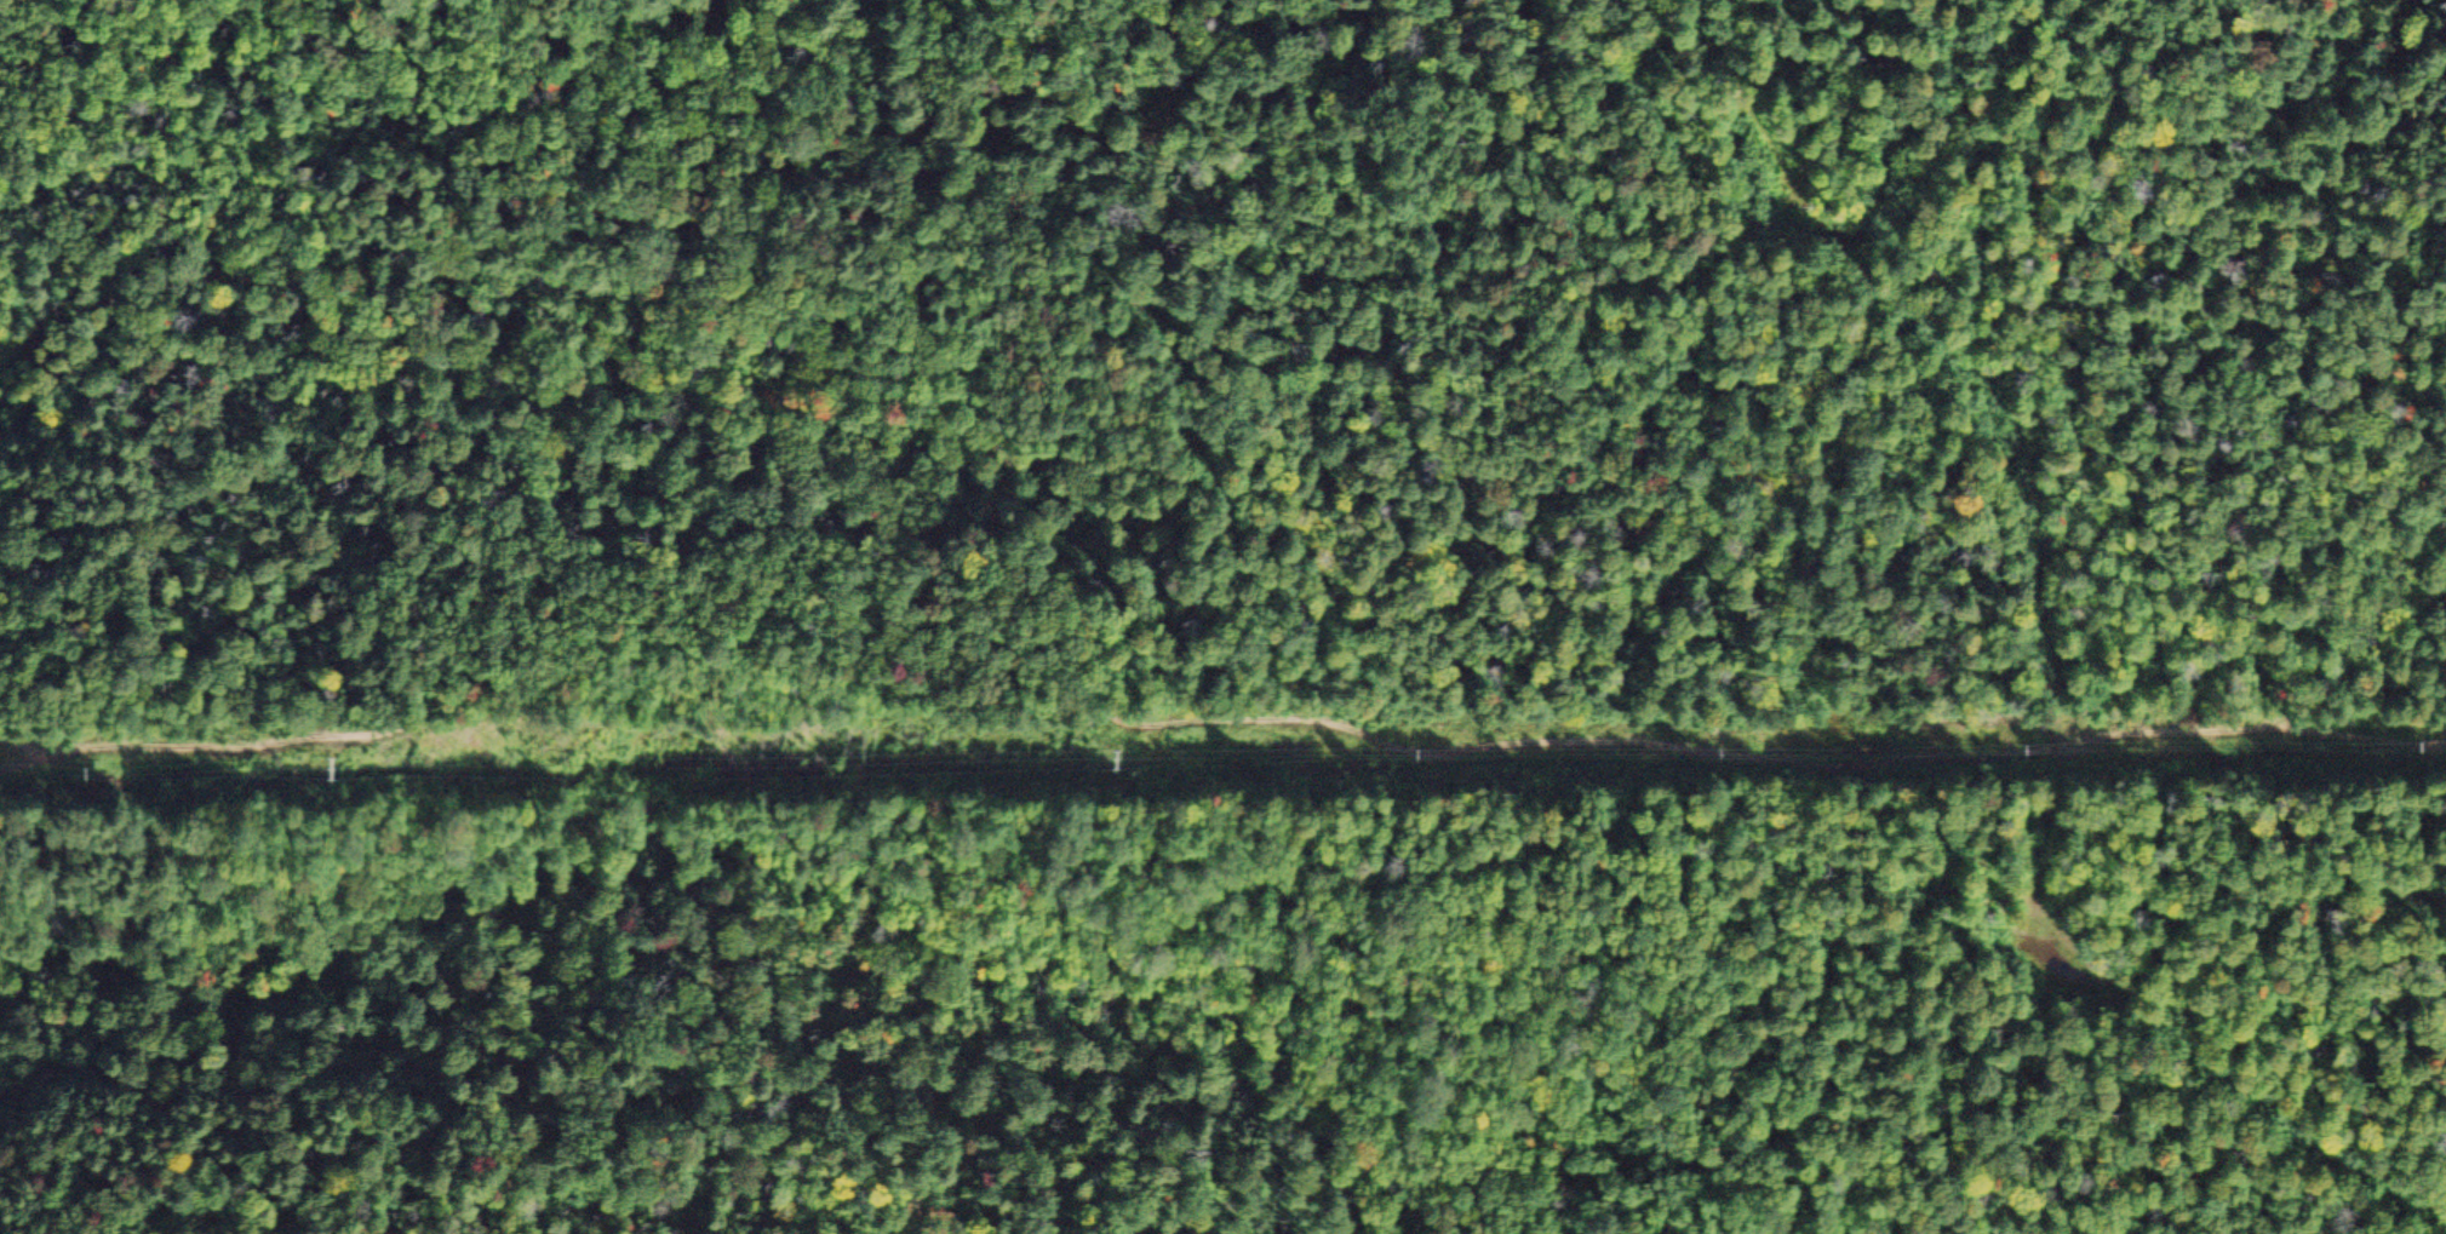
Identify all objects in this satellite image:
power tower: (1117, 747)
power tower: (333, 756)

